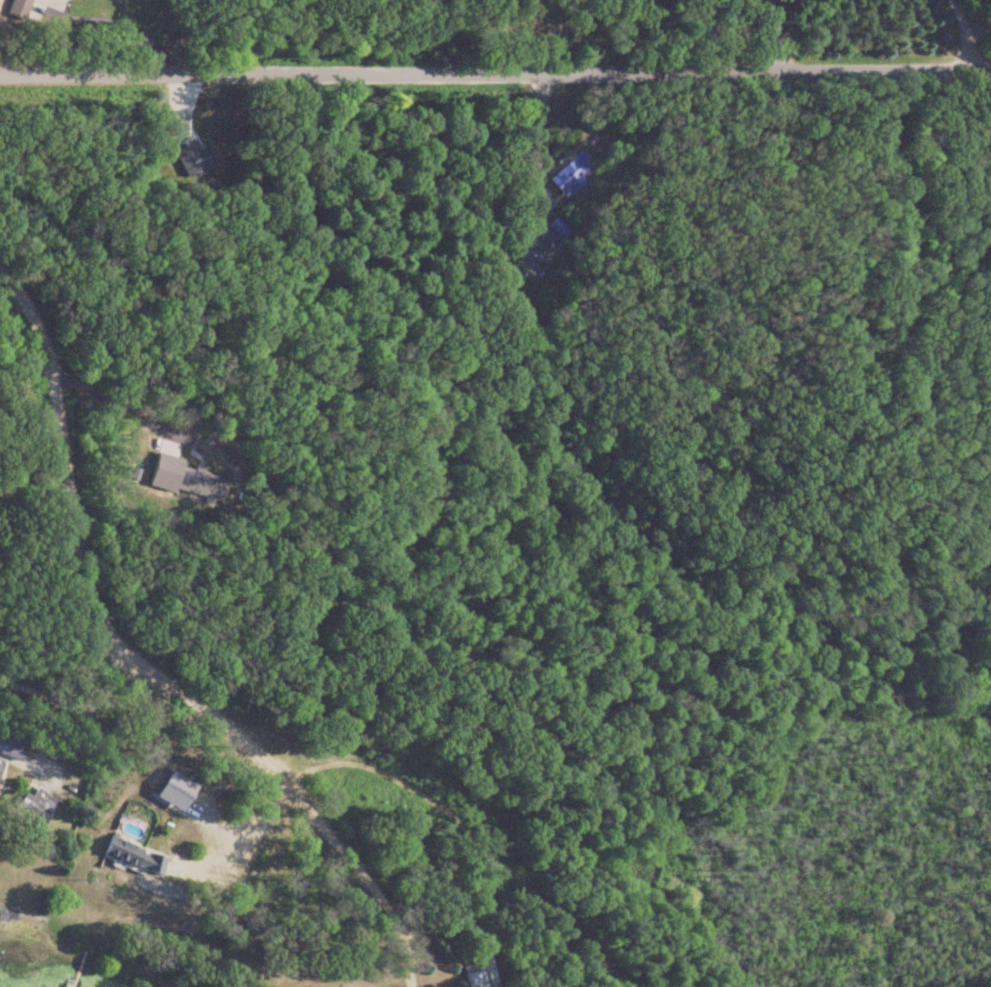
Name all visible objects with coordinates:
road: (110, 18)
road: (980, 26)
road: (778, 32)
road: (967, 32)
road: (495, 66)
road: (524, 132)
road: (148, 410)
road: (34, 477)
road: (130, 616)
road: (85, 696)
building: (43, 801)
road: (410, 817)
road: (237, 835)
building: (134, 856)
road: (403, 954)
building: (475, 976)

